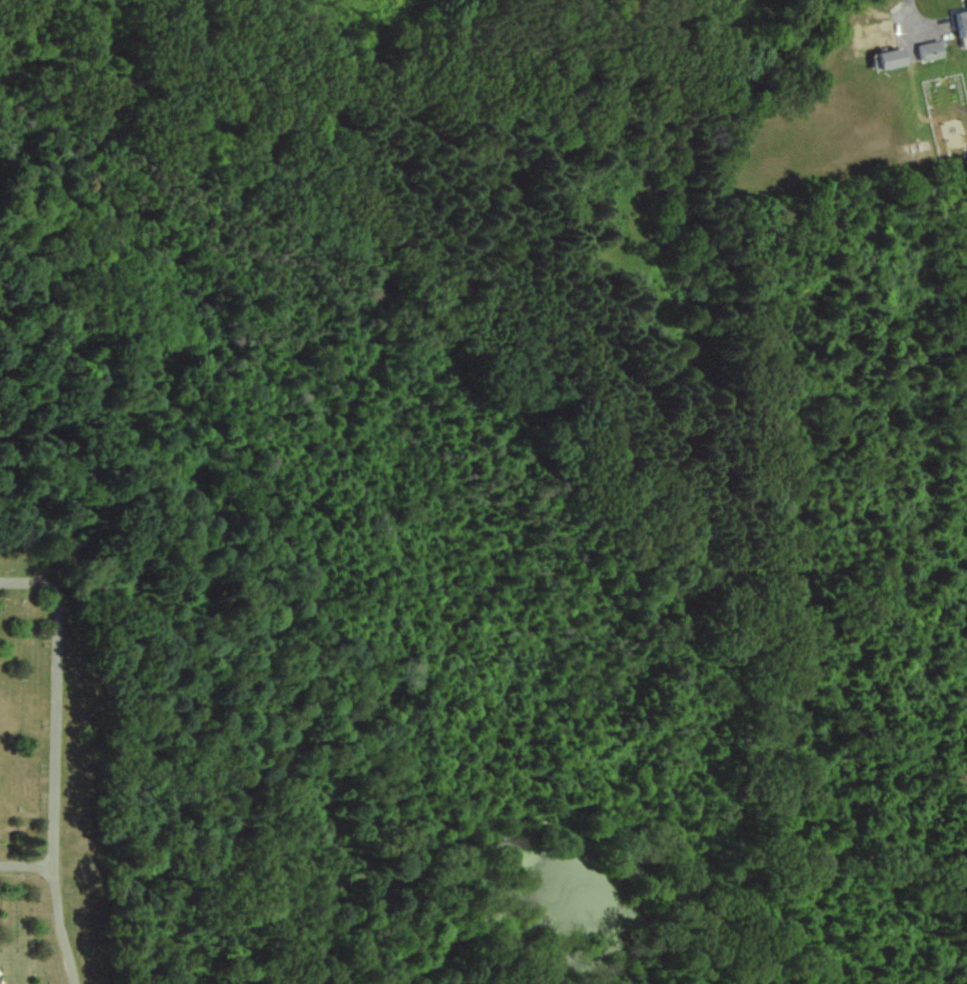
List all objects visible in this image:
road: (904, 11)
building: (962, 24)
building: (931, 51)
building: (890, 60)
park: (963, 116)
park: (478, 503)
road: (52, 760)
park: (35, 770)
road: (25, 864)
park: (956, 978)

